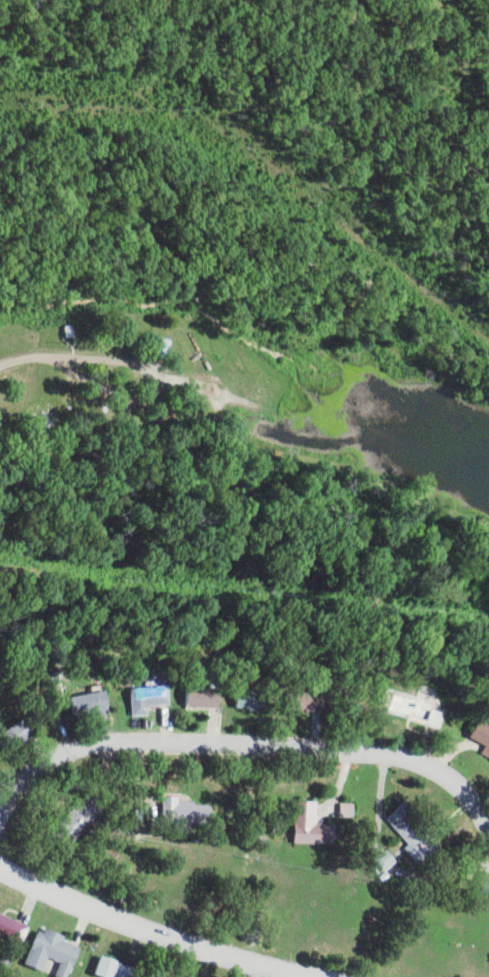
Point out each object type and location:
road: (83, 362)
building: (203, 696)
building: (149, 697)
building: (253, 697)
building: (306, 700)
building: (89, 702)
building: (481, 734)
road: (245, 747)
building: (188, 811)
building: (81, 821)
building: (313, 825)
building: (415, 833)
building: (387, 859)
building: (14, 926)
road: (142, 930)
building: (54, 951)
building: (114, 968)

